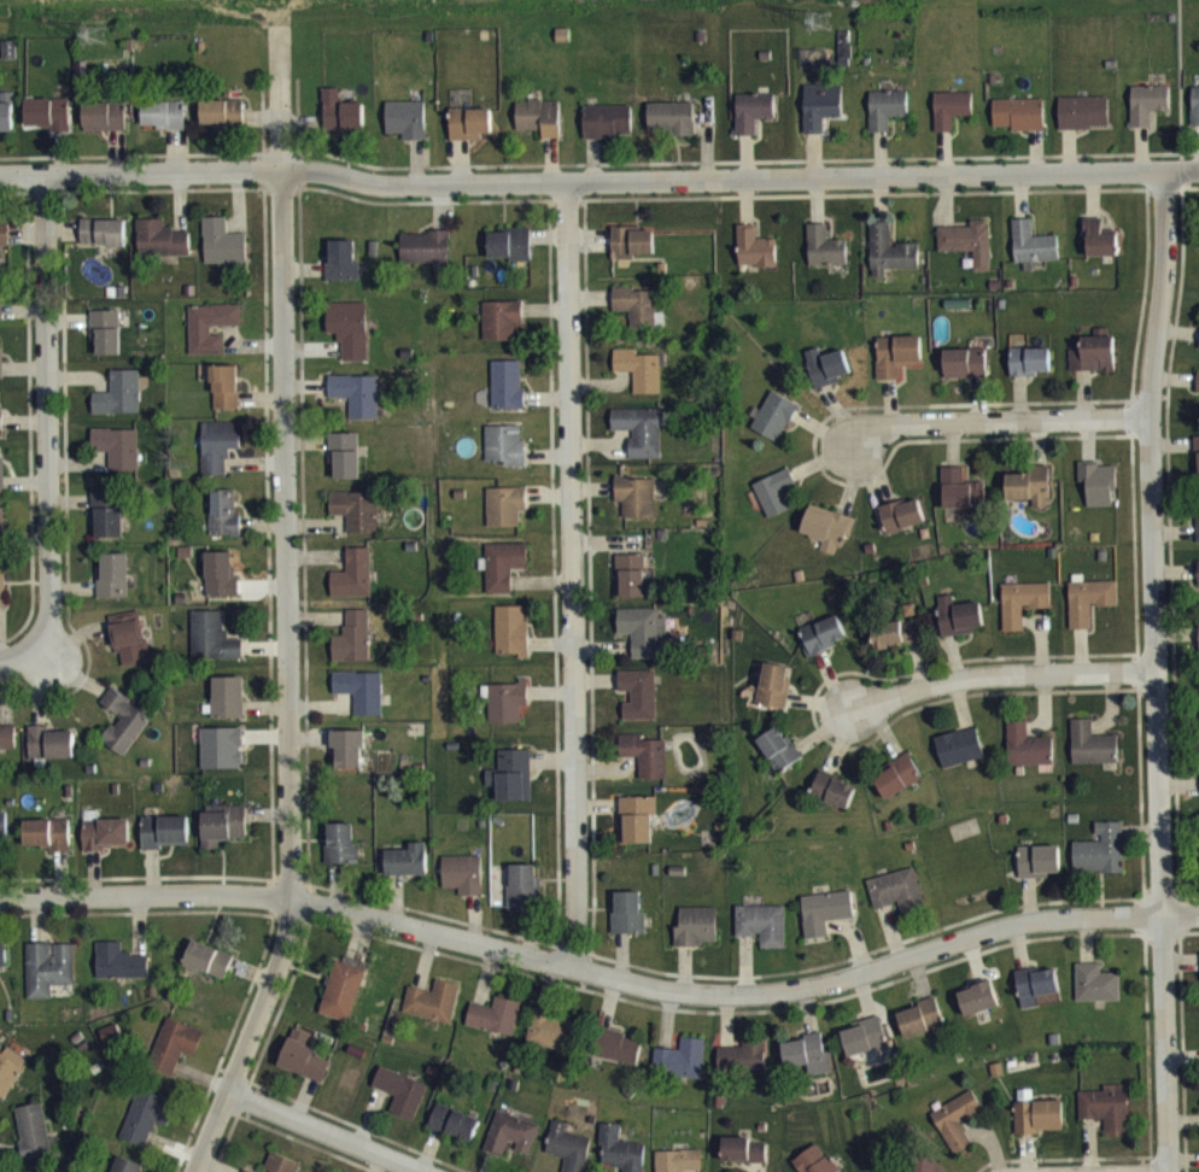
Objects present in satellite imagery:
power tower: (818, 16)
power tower: (96, 30)
building: (1148, 116)
building: (821, 119)
building: (1195, 119)
building: (887, 122)
building: (951, 122)
building: (222, 124)
building: (753, 124)
building: (6, 125)
building: (341, 125)
building: (1084, 125)
building: (48, 127)
building: (164, 127)
building: (1019, 127)
building: (105, 128)
building: (539, 130)
building: (671, 130)
building: (407, 131)
building: (607, 134)
building: (470, 135)
road: (598, 180)
building: (104, 245)
building: (5, 246)
building: (160, 252)
building: (1100, 252)
building: (222, 254)
building: (632, 254)
building: (969, 254)
building: (1034, 256)
building: (510, 257)
building: (825, 259)
building: (425, 260)
building: (755, 260)
building: (890, 264)
building: (341, 273)
building: (0, 312)
building: (637, 318)
building: (501, 332)
building: (210, 339)
building: (349, 341)
building: (106, 344)
building: (897, 368)
building: (1094, 368)
building: (1030, 374)
building: (1, 375)
building: (965, 376)
building: (826, 380)
building: (638, 382)
building: (1198, 394)
building: (507, 397)
building: (226, 399)
building: (121, 406)
building: (357, 406)
road: (47, 416)
road: (1000, 418)
building: (0, 426)
building: (774, 428)
building: (639, 444)
building: (220, 458)
building: (505, 458)
building: (118, 459)
building: (345, 467)
building: (1198, 470)
building: (2, 488)
building: (1099, 496)
building: (1030, 499)
building: (961, 503)
building: (774, 504)
building: (636, 510)
building: (505, 518)
building: (357, 523)
building: (109, 527)
building: (224, 527)
building: (902, 528)
building: (2, 540)
building: (829, 540)
road: (569, 574)
building: (503, 578)
building: (221, 587)
building: (353, 587)
building: (113, 588)
building: (630, 588)
building: (2, 598)
road: (285, 606)
building: (1090, 613)
building: (1023, 615)
building: (960, 629)
building: (643, 643)
building: (510, 644)
building: (823, 647)
building: (129, 650)
building: (212, 650)
building: (352, 650)
road: (24, 658)
road: (1157, 670)
road: (1005, 674)
building: (774, 698)
building: (361, 703)
building: (638, 707)
building: (228, 710)
building: (507, 714)
building: (124, 734)
building: (7, 749)
building: (51, 756)
building: (1093, 757)
building: (1028, 758)
building: (960, 760)
building: (222, 761)
building: (778, 761)
building: (349, 762)
building: (645, 767)
building: (511, 789)
building: (897, 789)
building: (834, 803)
building: (637, 832)
building: (223, 837)
building: (4, 838)
building: (165, 844)
building: (48, 846)
building: (106, 846)
building: (341, 856)
building: (1101, 862)
building: (408, 873)
building: (1040, 874)
building: (463, 886)
building: (524, 898)
building: (897, 903)
building: (826, 924)
building: (628, 926)
building: (762, 937)
building: (696, 938)
building: (4, 967)
building: (207, 972)
road: (601, 972)
building: (121, 974)
building: (49, 980)
building: (1096, 996)
building: (1036, 997)
building: (343, 1003)
building: (979, 1012)
building: (432, 1014)
building: (495, 1029)
building: (922, 1031)
building: (552, 1043)
building: (111, 1045)
building: (864, 1049)
building: (174, 1057)
building: (618, 1060)
building: (807, 1067)
building: (303, 1071)
building: (742, 1071)
building: (680, 1072)
building: (10, 1082)
building: (400, 1104)
building: (1107, 1119)
building: (146, 1129)
road: (324, 1131)
building: (958, 1132)
building: (454, 1136)
building: (34, 1144)
building: (510, 1147)
building: (567, 1155)
building: (618, 1158)
building: (742, 1161)
building: (814, 1166)
building: (678, 1167)
building: (276, 1168)
building: (122, 1170)

